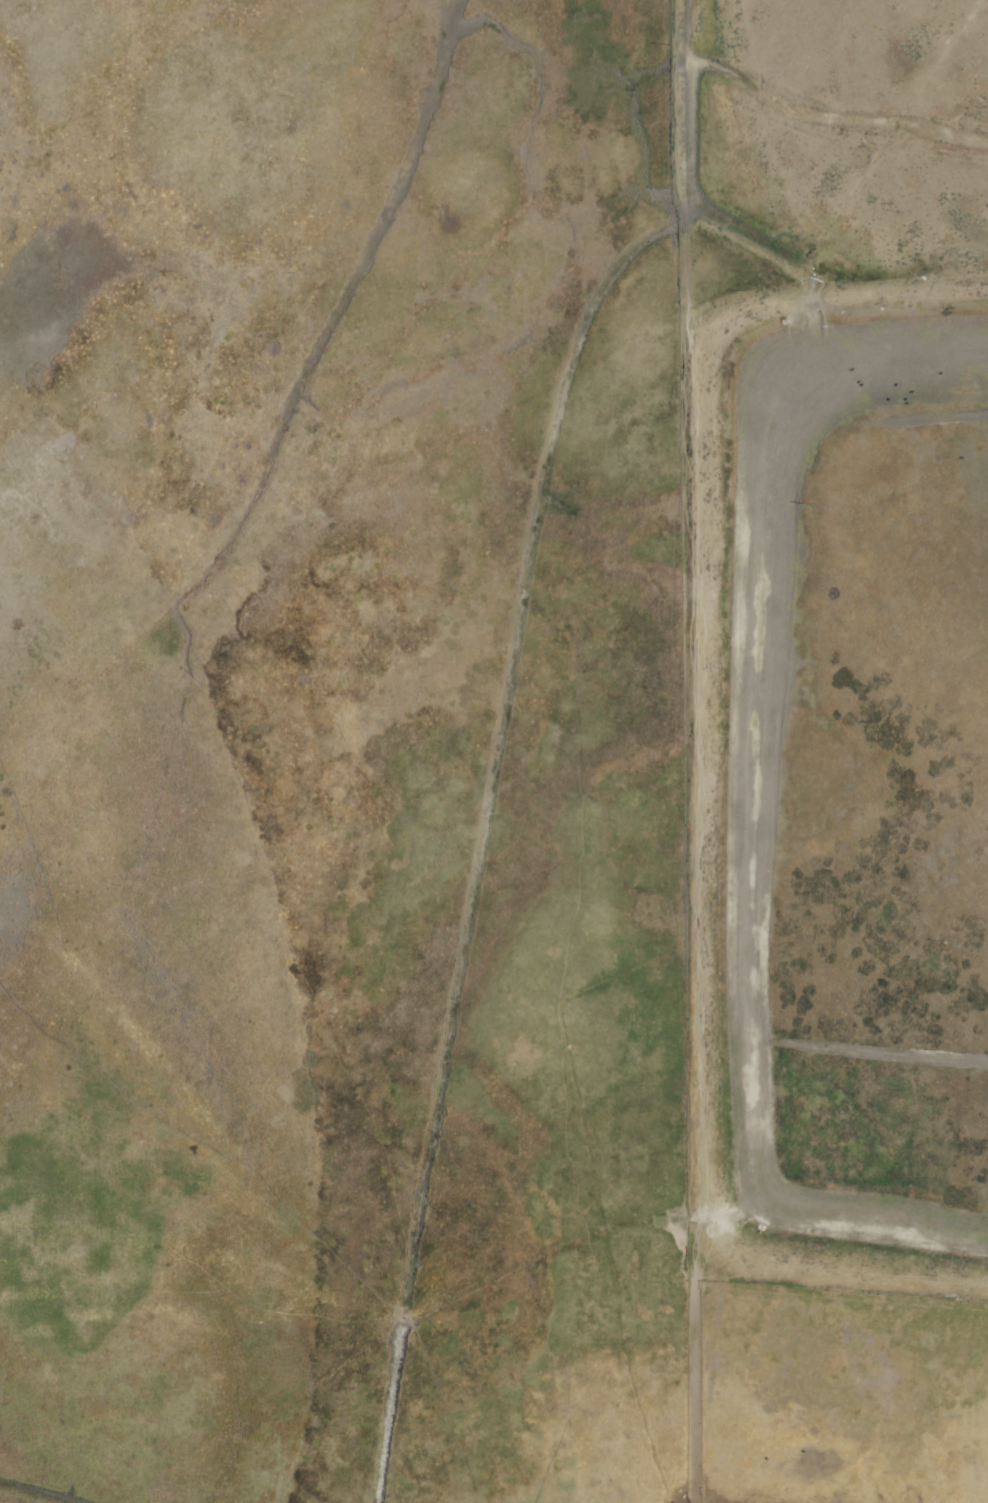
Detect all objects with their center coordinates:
crop: (394, 763)

